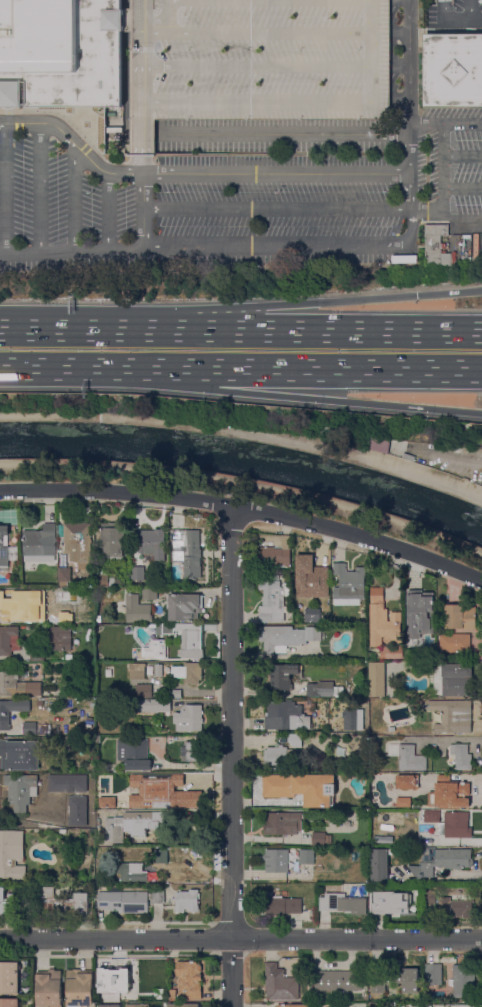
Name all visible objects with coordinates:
road: (271, 0)
road: (432, 2)
road: (471, 10)
parking lot: (455, 14)
road: (169, 15)
road: (455, 20)
road: (125, 21)
road: (156, 26)
road: (270, 32)
road: (399, 34)
building: (60, 53)
road: (372, 53)
road: (143, 60)
building: (257, 61)
parking garage: (257, 61)
road: (257, 67)
building: (453, 70)
road: (399, 73)
road: (399, 98)
road: (253, 101)
road: (409, 117)
road: (445, 124)
road: (272, 133)
road: (142, 137)
road: (462, 156)
road: (142, 164)
road: (195, 174)
road: (443, 182)
road: (40, 188)
road: (6, 189)
road: (462, 189)
road: (75, 197)
road: (276, 209)
road: (144, 210)
road: (108, 211)
road: (458, 222)
road: (279, 245)
building: (436, 245)
road: (72, 251)
road: (312, 301)
road: (240, 331)
road: (45, 368)
road: (286, 369)
road: (285, 396)
road: (245, 434)
building: (379, 444)
river: (245, 461)
road: (245, 485)
road: (246, 507)
building: (4, 531)
building: (113, 541)
building: (41, 544)
building: (80, 544)
building: (153, 544)
building: (129, 551)
building: (188, 551)
building: (8, 556)
building: (275, 557)
building: (98, 565)
building: (139, 573)
building: (65, 576)
building: (272, 576)
building: (312, 578)
building: (101, 579)
building: (110, 580)
building: (85, 582)
building: (350, 585)
building: (150, 594)
building: (31, 603)
building: (271, 603)
building: (185, 606)
building: (138, 610)
building: (313, 615)
building: (461, 616)
building: (423, 617)
building: (383, 619)
building: (286, 637)
building: (60, 638)
building: (186, 638)
building: (7, 640)
building: (434, 641)
building: (456, 643)
building: (106, 648)
building: (151, 651)
building: (392, 652)
building: (410, 653)
building: (38, 654)
building: (422, 654)
building: (69, 657)
building: (159, 670)
building: (137, 671)
building: (189, 673)
building: (283, 676)
building: (377, 679)
building: (458, 680)
building: (18, 686)
building: (323, 689)
building: (144, 691)
building: (175, 694)
building: (131, 702)
building: (40, 703)
building: (158, 706)
building: (285, 716)
building: (453, 716)
building: (5, 719)
building: (191, 719)
building: (354, 719)
building: (159, 724)
building: (30, 729)
building: (391, 731)
road: (447, 738)
building: (191, 751)
building: (283, 753)
road: (474, 753)
building: (21, 754)
building: (135, 754)
road: (232, 755)
building: (462, 756)
building: (411, 759)
building: (119, 777)
building: (101, 779)
building: (408, 782)
building: (302, 788)
building: (146, 789)
building: (21, 791)
building: (450, 794)
building: (188, 795)
building: (404, 802)
building: (54, 804)
building: (100, 816)
building: (431, 816)
building: (283, 823)
building: (133, 824)
building: (457, 825)
building: (64, 831)
building: (320, 838)
building: (12, 856)
building: (161, 856)
building: (306, 857)
building: (277, 861)
building: (442, 861)
building: (381, 865)
building: (133, 872)
road: (444, 877)
building: (158, 897)
building: (430, 897)
building: (188, 901)
building: (124, 902)
building: (65, 903)
building: (8, 904)
building: (343, 904)
building: (389, 904)
building: (284, 906)
building: (456, 908)
road: (241, 938)
building: (434, 974)
building: (10, 978)
building: (405, 979)
building: (114, 980)
building: (190, 980)
building: (338, 981)
building: (463, 982)
building: (280, 983)
building: (378, 984)
building: (49, 988)
building: (80, 988)
building: (173, 994)
building: (381, 998)
building: (305, 999)
building: (9, 1002)
building: (108, 1005)
building: (138, 1005)
building: (184, 1005)
building: (374, 1005)
building: (294, 1006)

